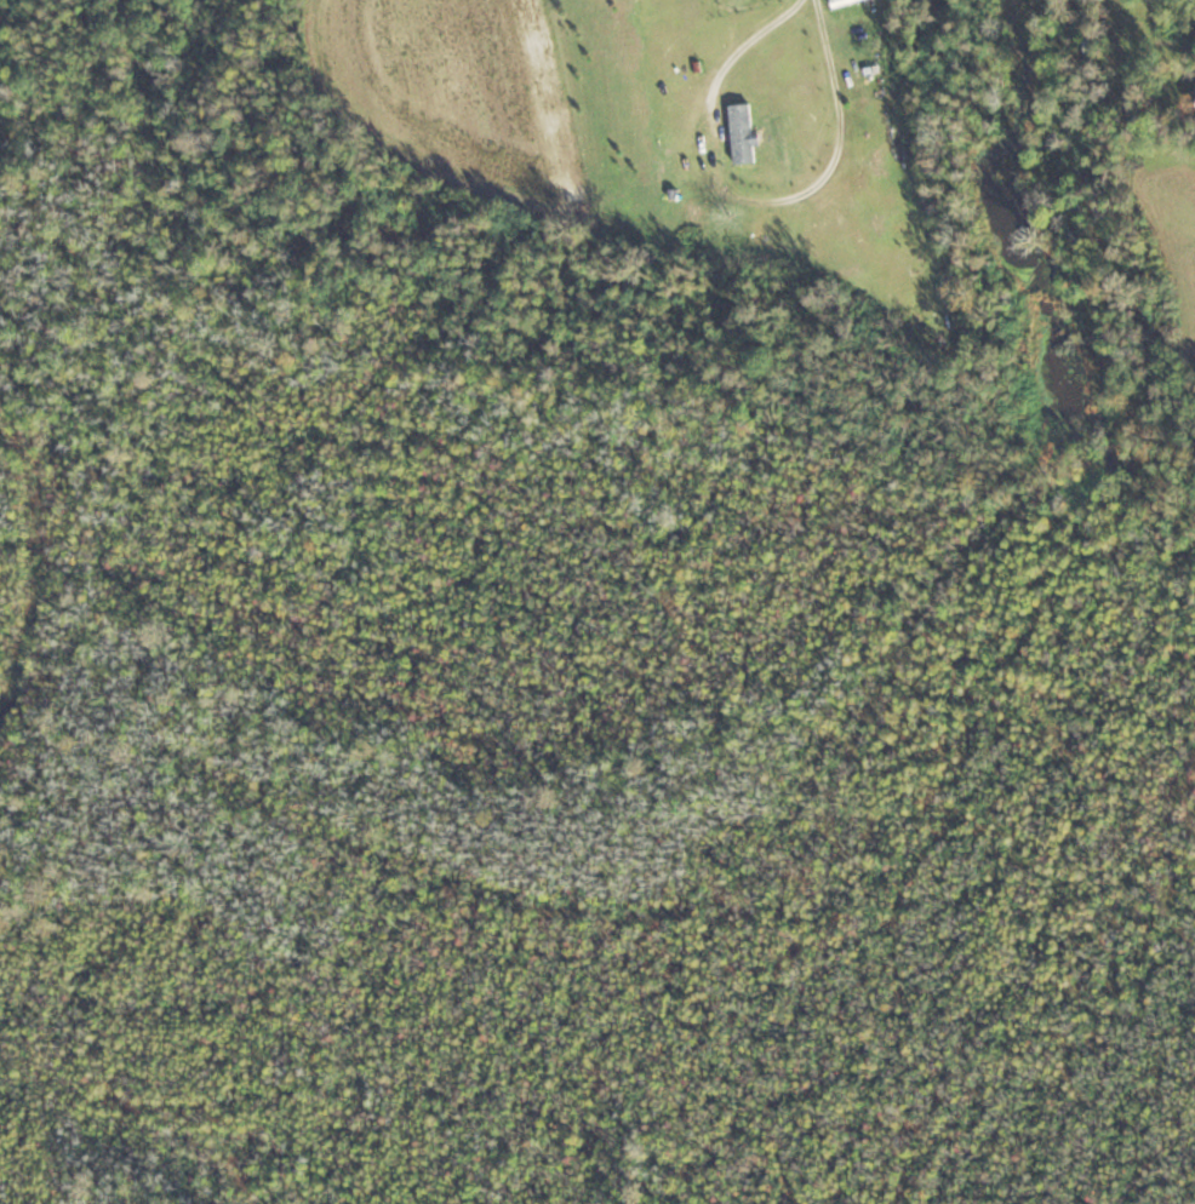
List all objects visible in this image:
building: (864, 8)
building: (748, 132)
road: (755, 194)

